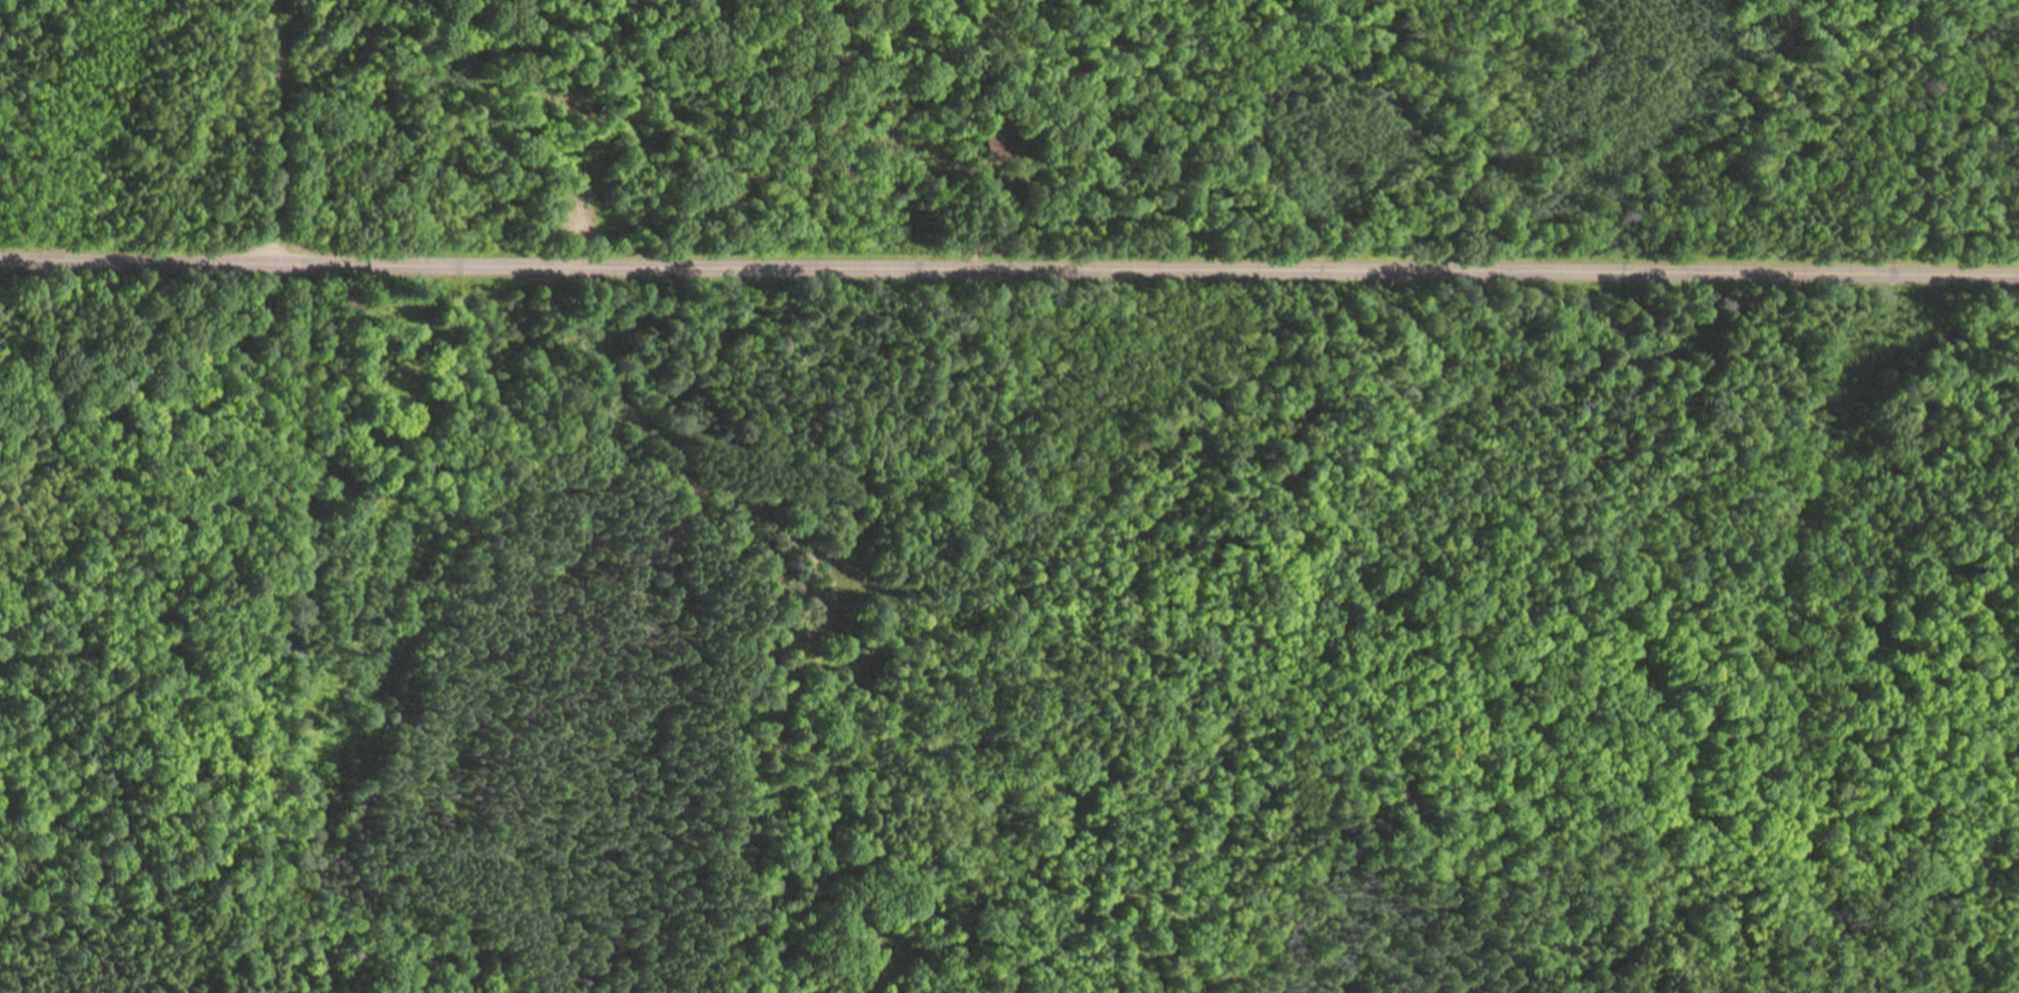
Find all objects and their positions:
road: (278, 127)
road: (1009, 260)

